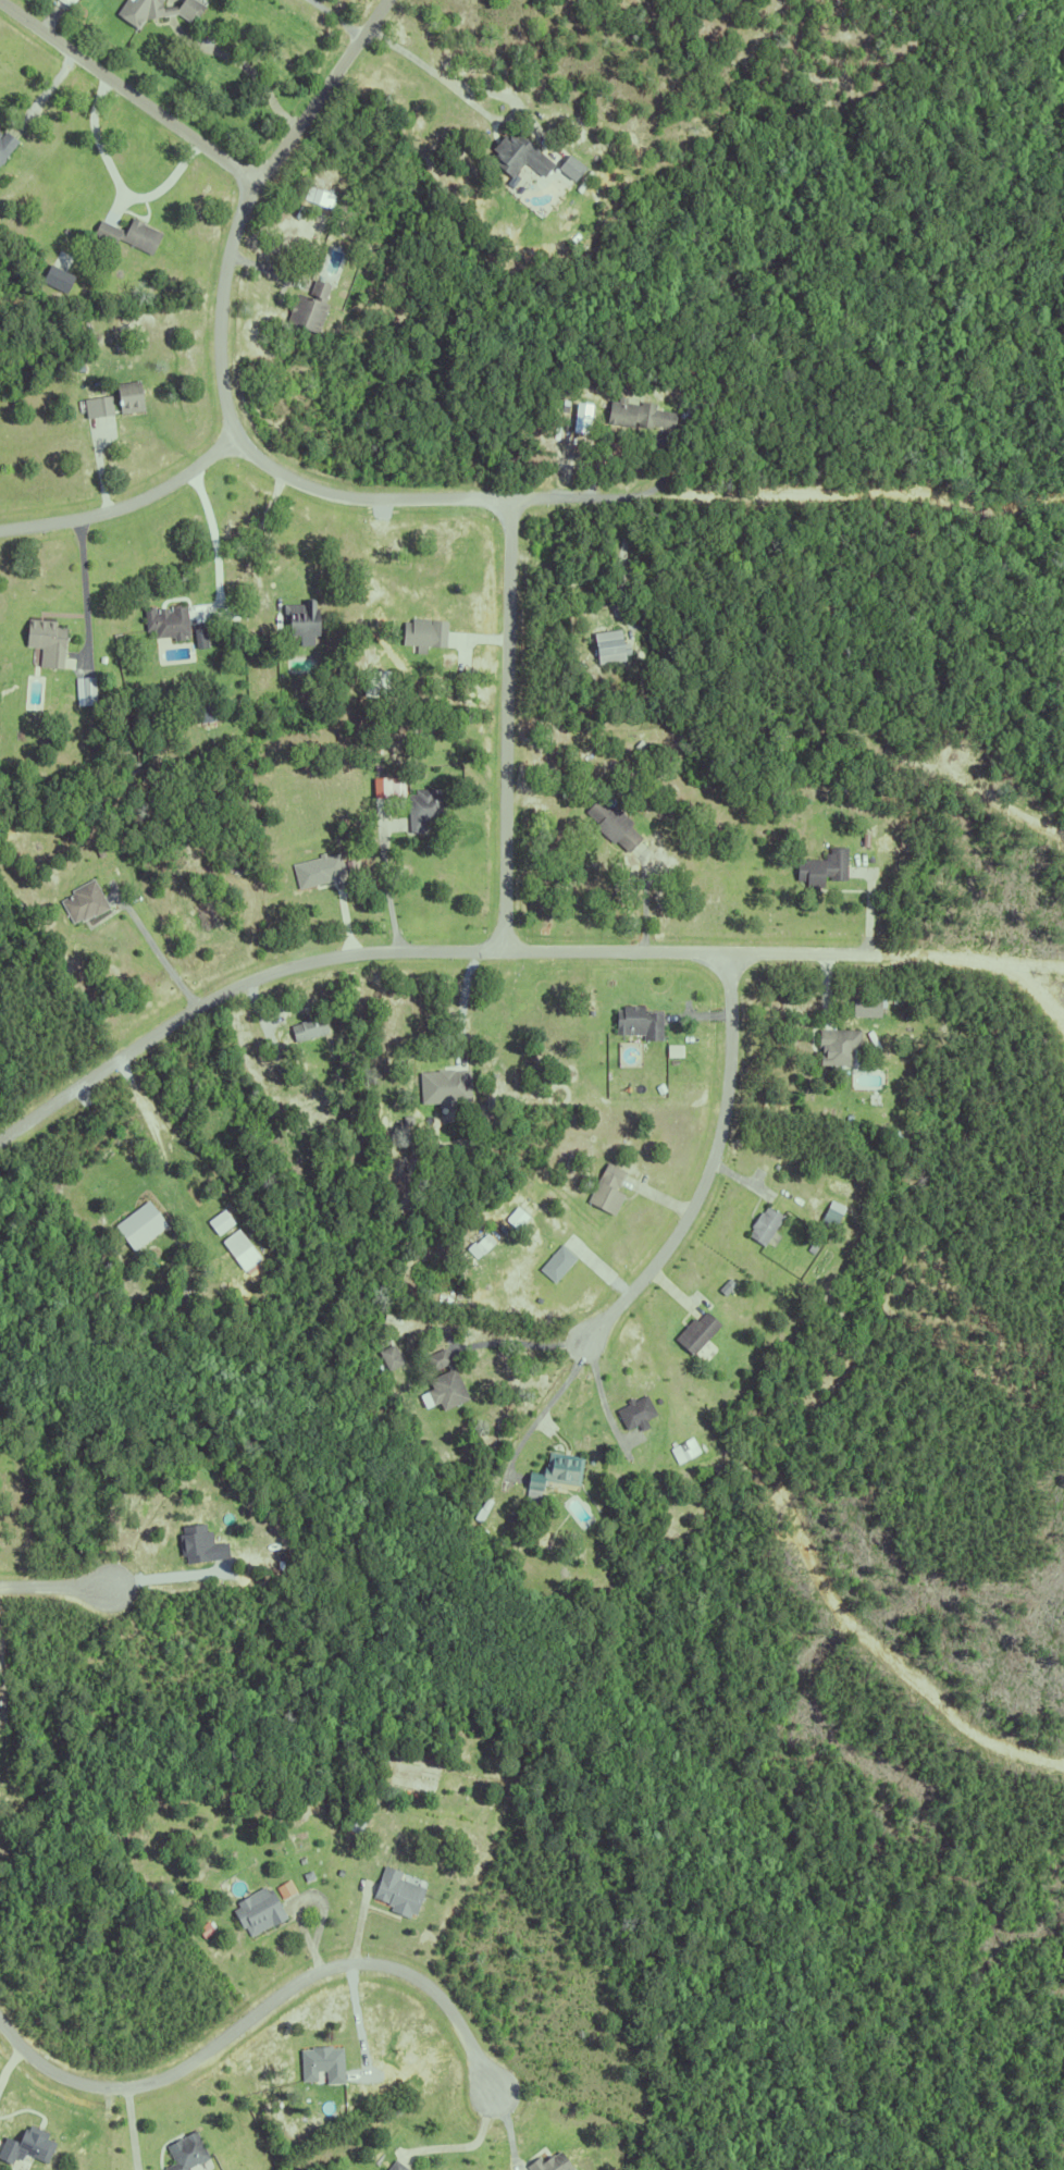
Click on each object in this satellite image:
building: (154, 11)
road: (338, 16)
road: (243, 64)
road: (42, 87)
road: (129, 88)
road: (485, 88)
building: (583, 137)
building: (5, 141)
building: (517, 153)
building: (569, 165)
road: (116, 182)
building: (317, 198)
building: (127, 232)
building: (308, 306)
building: (77, 368)
building: (127, 395)
building: (561, 406)
building: (636, 412)
building: (685, 412)
road: (237, 440)
road: (125, 503)
road: (255, 533)
road: (212, 547)
road: (621, 555)
road: (81, 567)
building: (299, 617)
building: (165, 620)
building: (421, 633)
building: (198, 638)
building: (45, 640)
building: (608, 645)
building: (83, 690)
building: (645, 706)
building: (206, 708)
road: (505, 732)
building: (639, 745)
building: (419, 809)
building: (611, 823)
building: (821, 866)
building: (317, 868)
road: (386, 893)
building: (83, 901)
road: (643, 909)
road: (157, 951)
road: (546, 965)
road: (815, 967)
building: (865, 1007)
building: (635, 1023)
road: (172, 1026)
building: (305, 1029)
building: (837, 1046)
building: (672, 1051)
building: (440, 1086)
road: (147, 1125)
building: (817, 1175)
building: (605, 1188)
road: (700, 1191)
building: (828, 1217)
building: (763, 1224)
building: (138, 1225)
building: (212, 1228)
building: (478, 1246)
building: (122, 1250)
building: (239, 1250)
building: (555, 1263)
building: (723, 1287)
building: (694, 1332)
road: (524, 1343)
building: (388, 1358)
building: (442, 1381)
building: (633, 1413)
road: (534, 1420)
building: (681, 1446)
building: (553, 1474)
building: (197, 1545)
road: (164, 1576)
road: (57, 1590)
building: (306, 1872)
building: (396, 1887)
building: (283, 1889)
building: (257, 1907)
road: (263, 2011)
building: (320, 2064)
road: (131, 2130)
road: (465, 2142)
building: (500, 2145)
building: (25, 2146)
building: (185, 2153)
building: (548, 2161)
building: (407, 2169)

